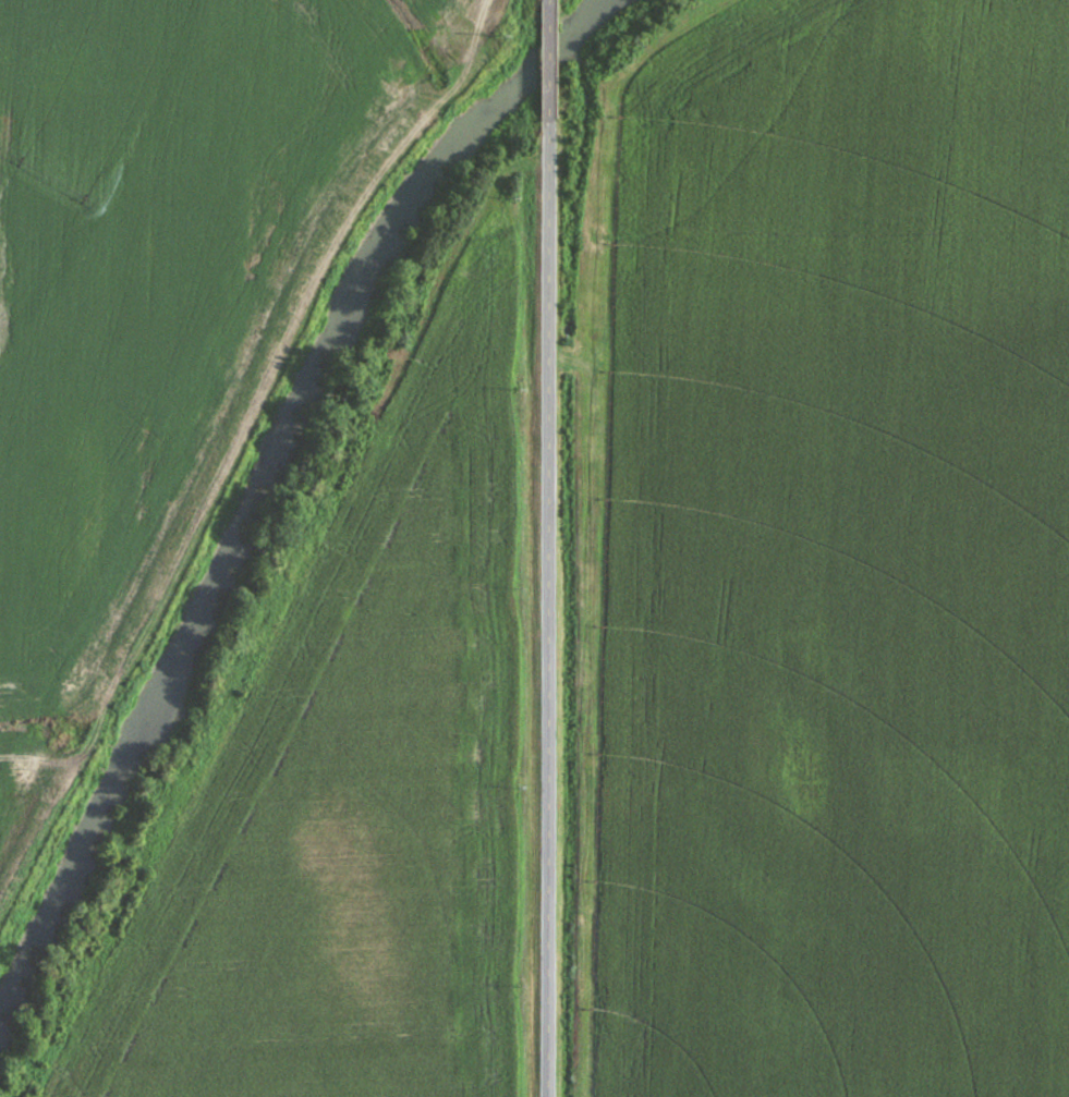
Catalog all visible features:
road: (548, 548)

